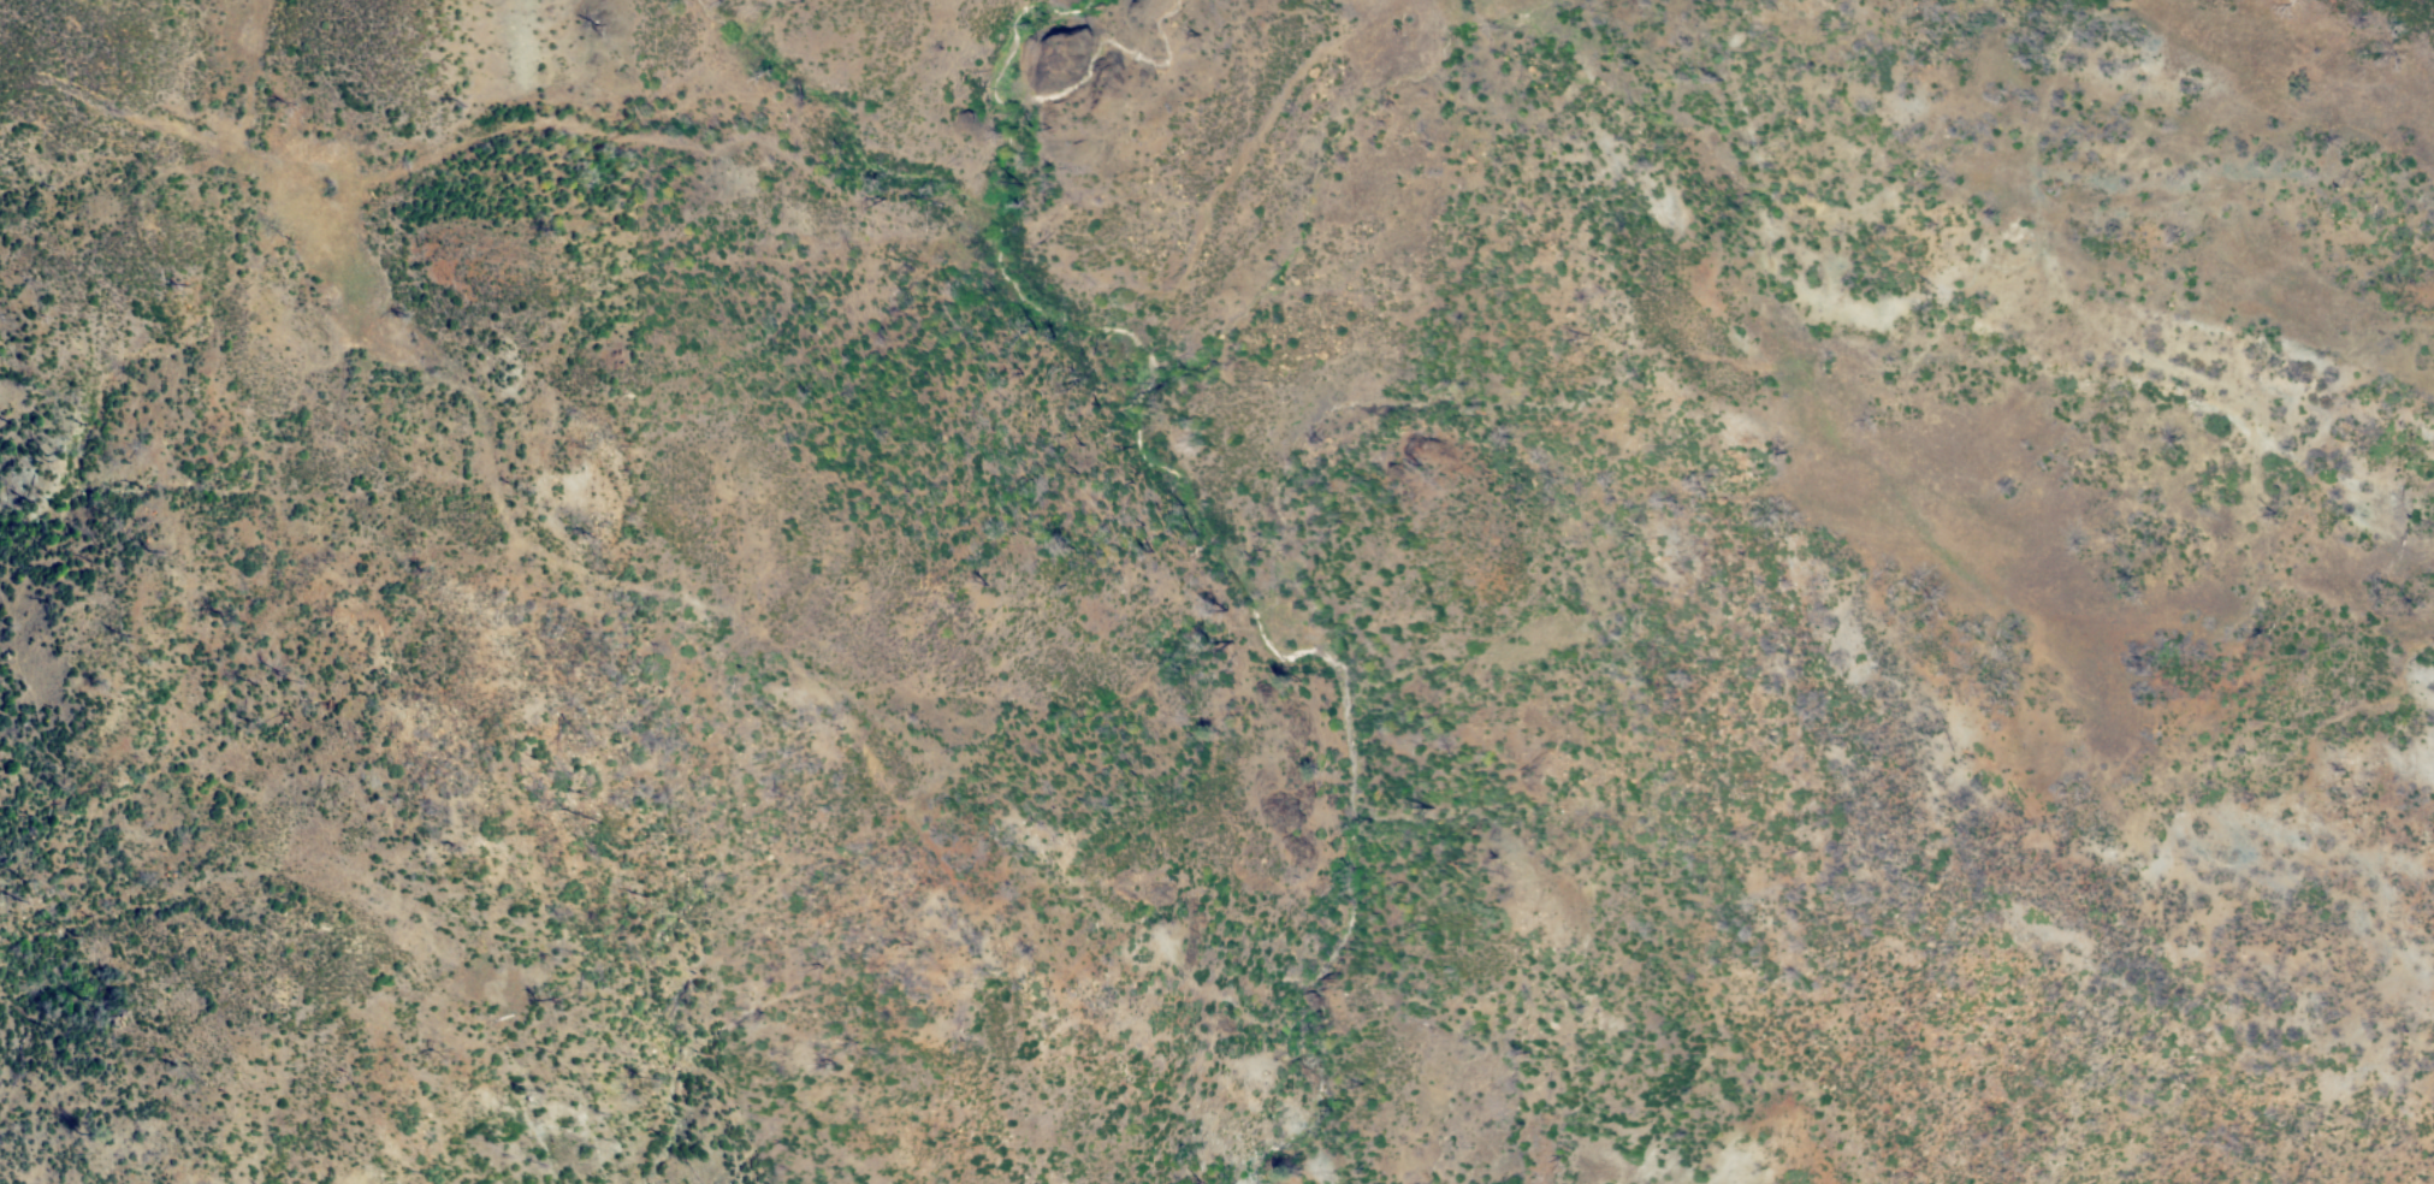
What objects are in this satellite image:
road: (254, 77)
road: (817, 200)
road: (611, 582)

